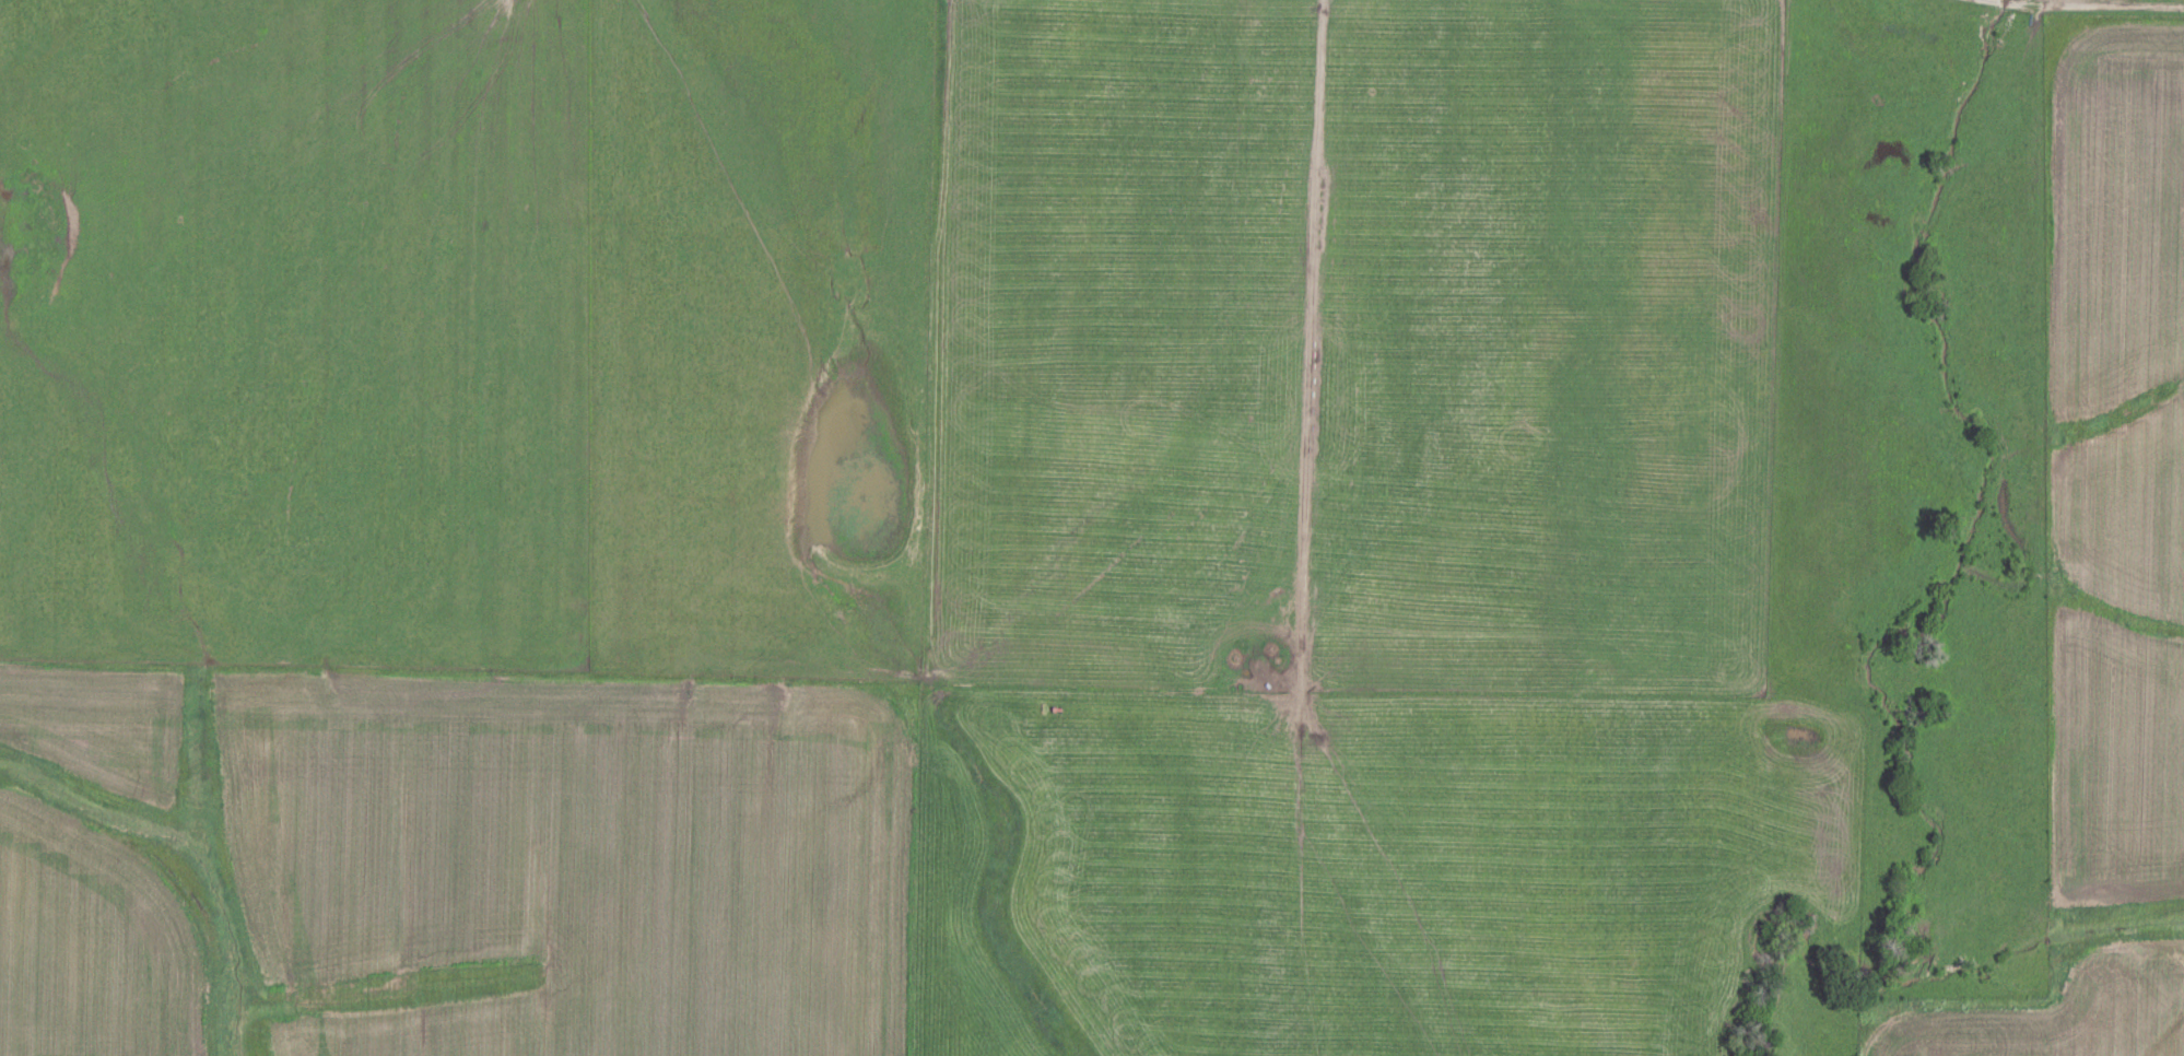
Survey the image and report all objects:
crop: (2103, 565)
crop: (457, 865)

